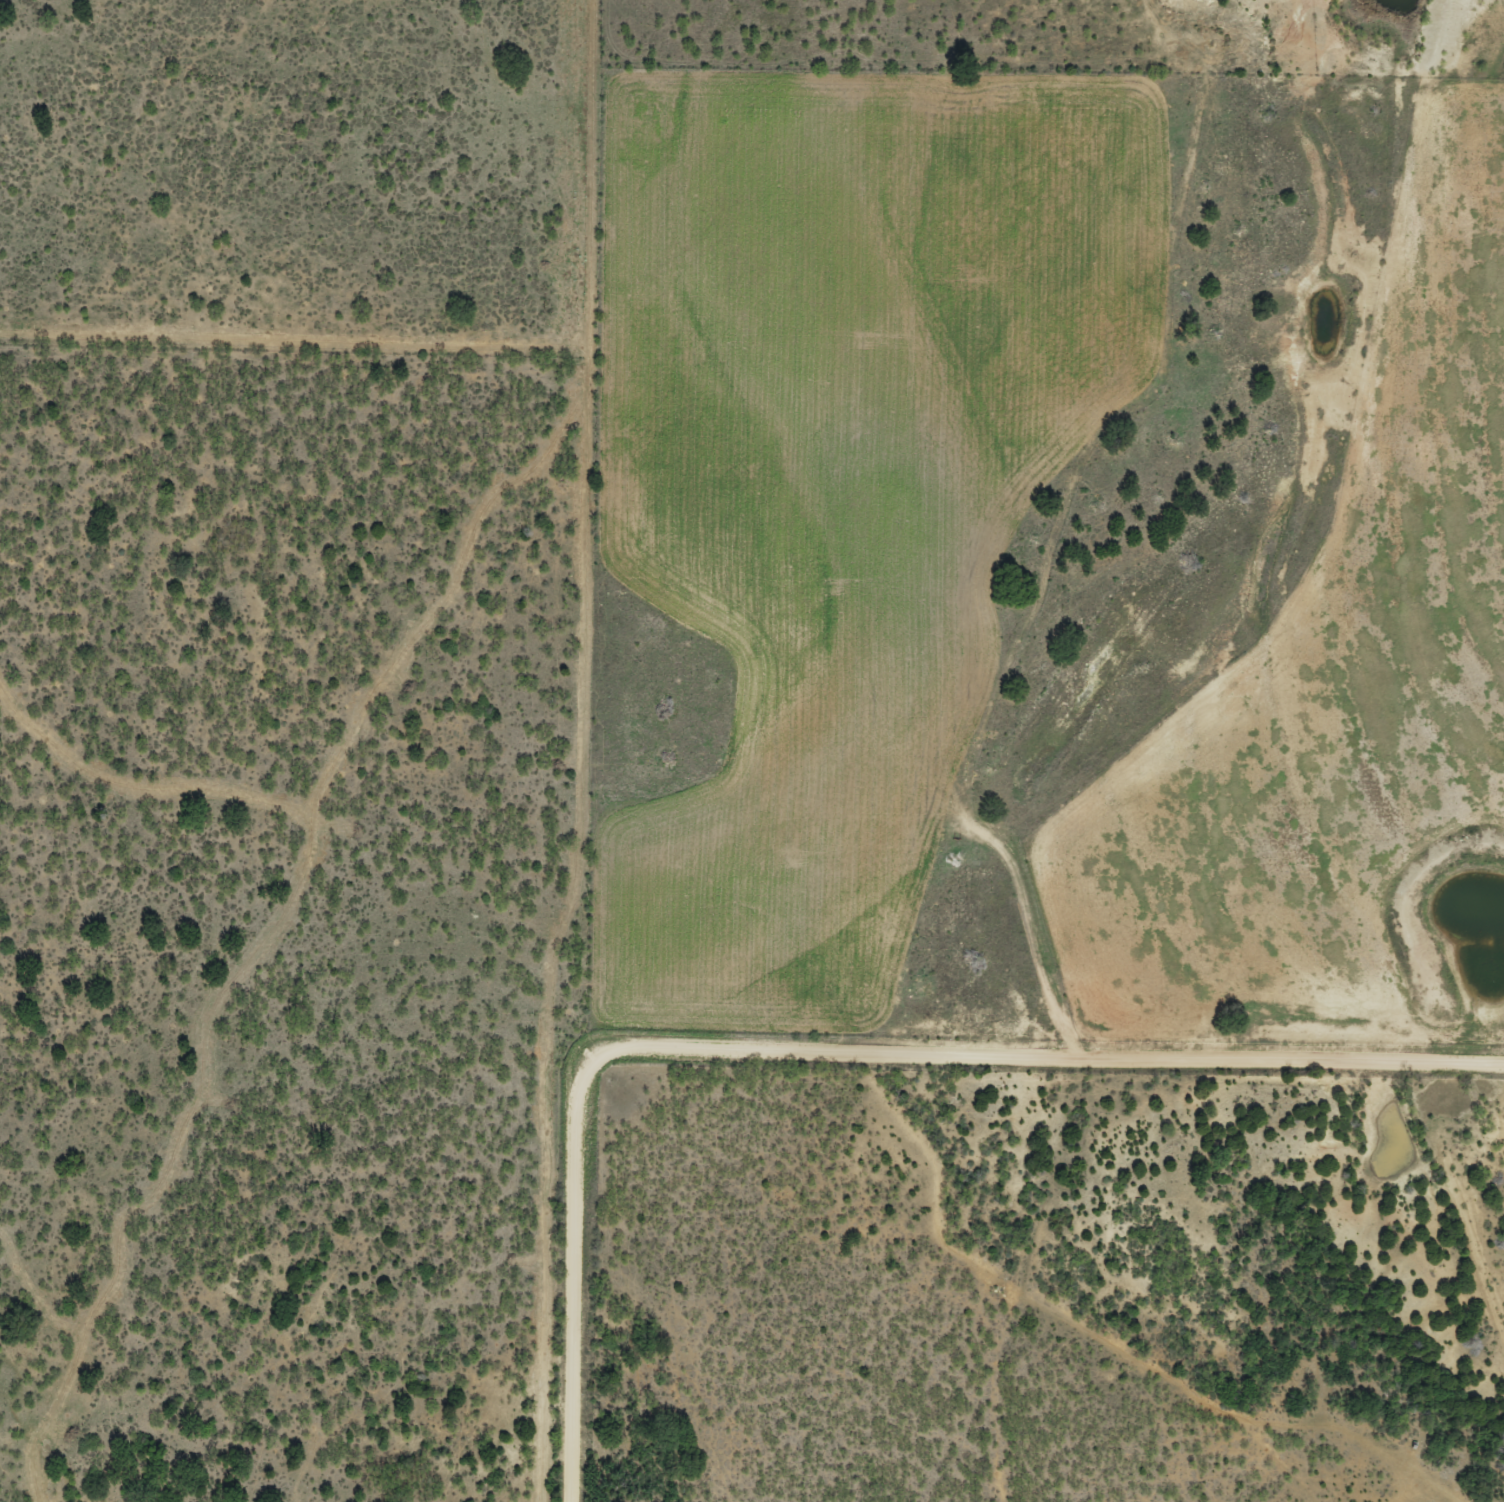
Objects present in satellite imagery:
road: (848, 1065)

